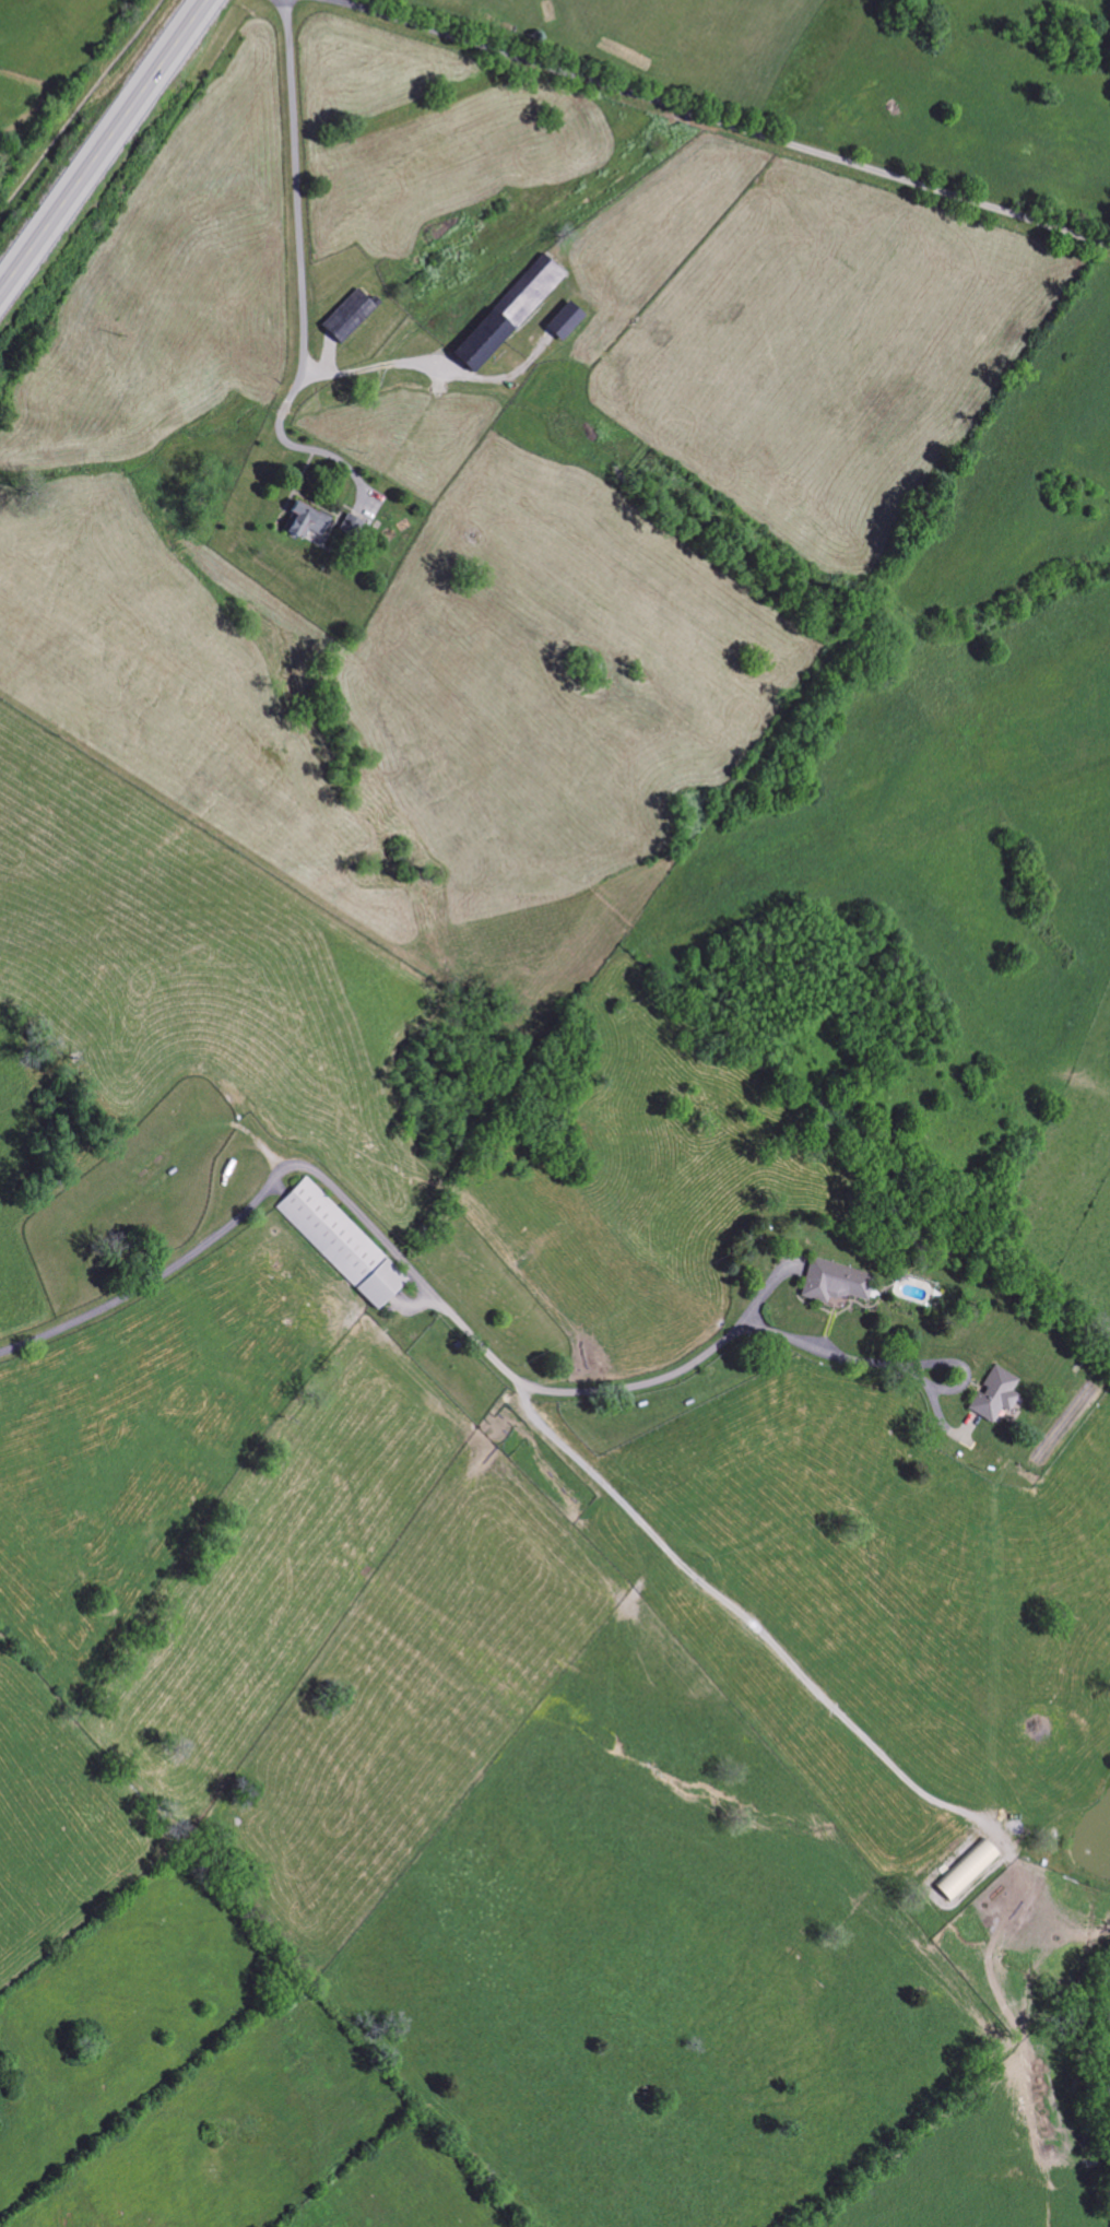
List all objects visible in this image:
road: (718, 122)
road: (103, 144)
road: (300, 264)
building: (507, 313)
building: (347, 315)
building: (564, 320)
road: (386, 364)
road: (366, 496)
building: (307, 523)
building: (349, 525)
building: (340, 1244)
road: (152, 1282)
building: (835, 1282)
road: (923, 1381)
road: (554, 1393)
building: (993, 1395)
road: (734, 1617)
building: (966, 1870)

